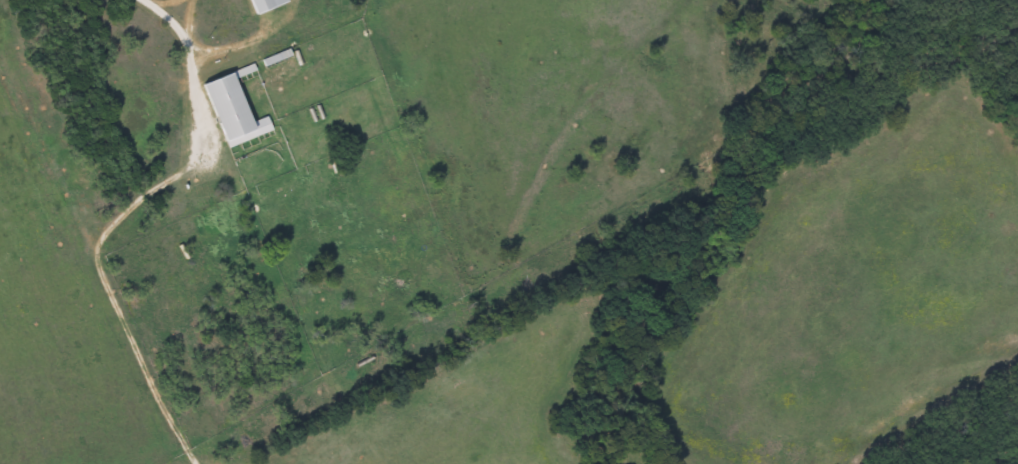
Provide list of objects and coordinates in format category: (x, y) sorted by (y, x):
building: (258, 5)
road: (191, 22)
road: (190, 63)
building: (227, 112)

